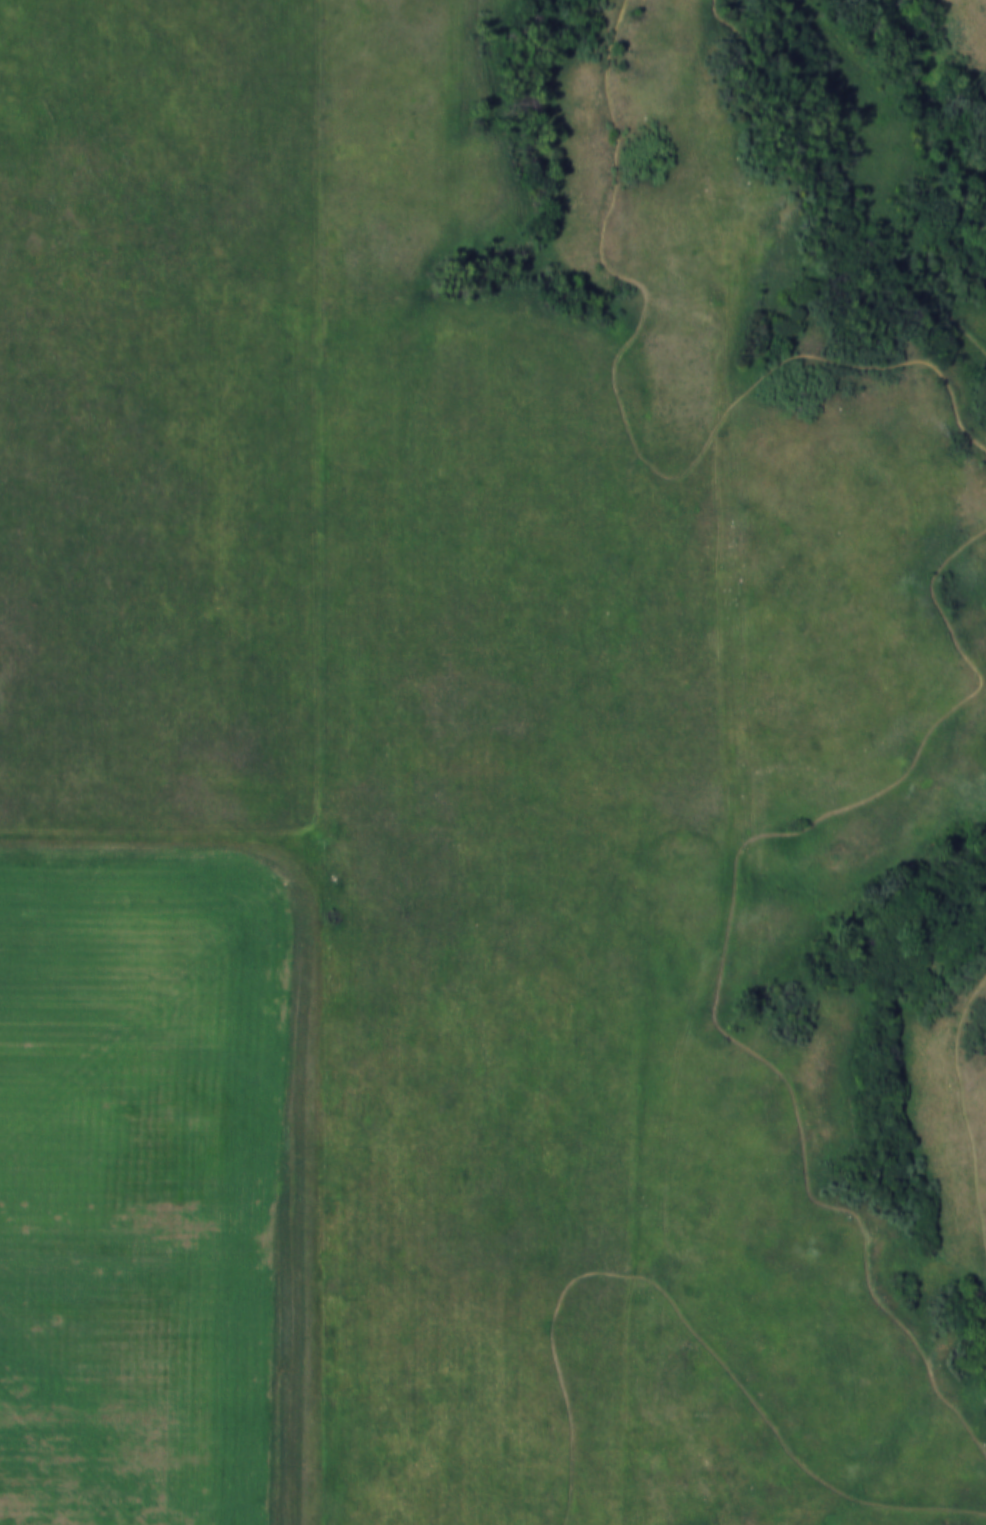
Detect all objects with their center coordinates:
park: (653, 762)

